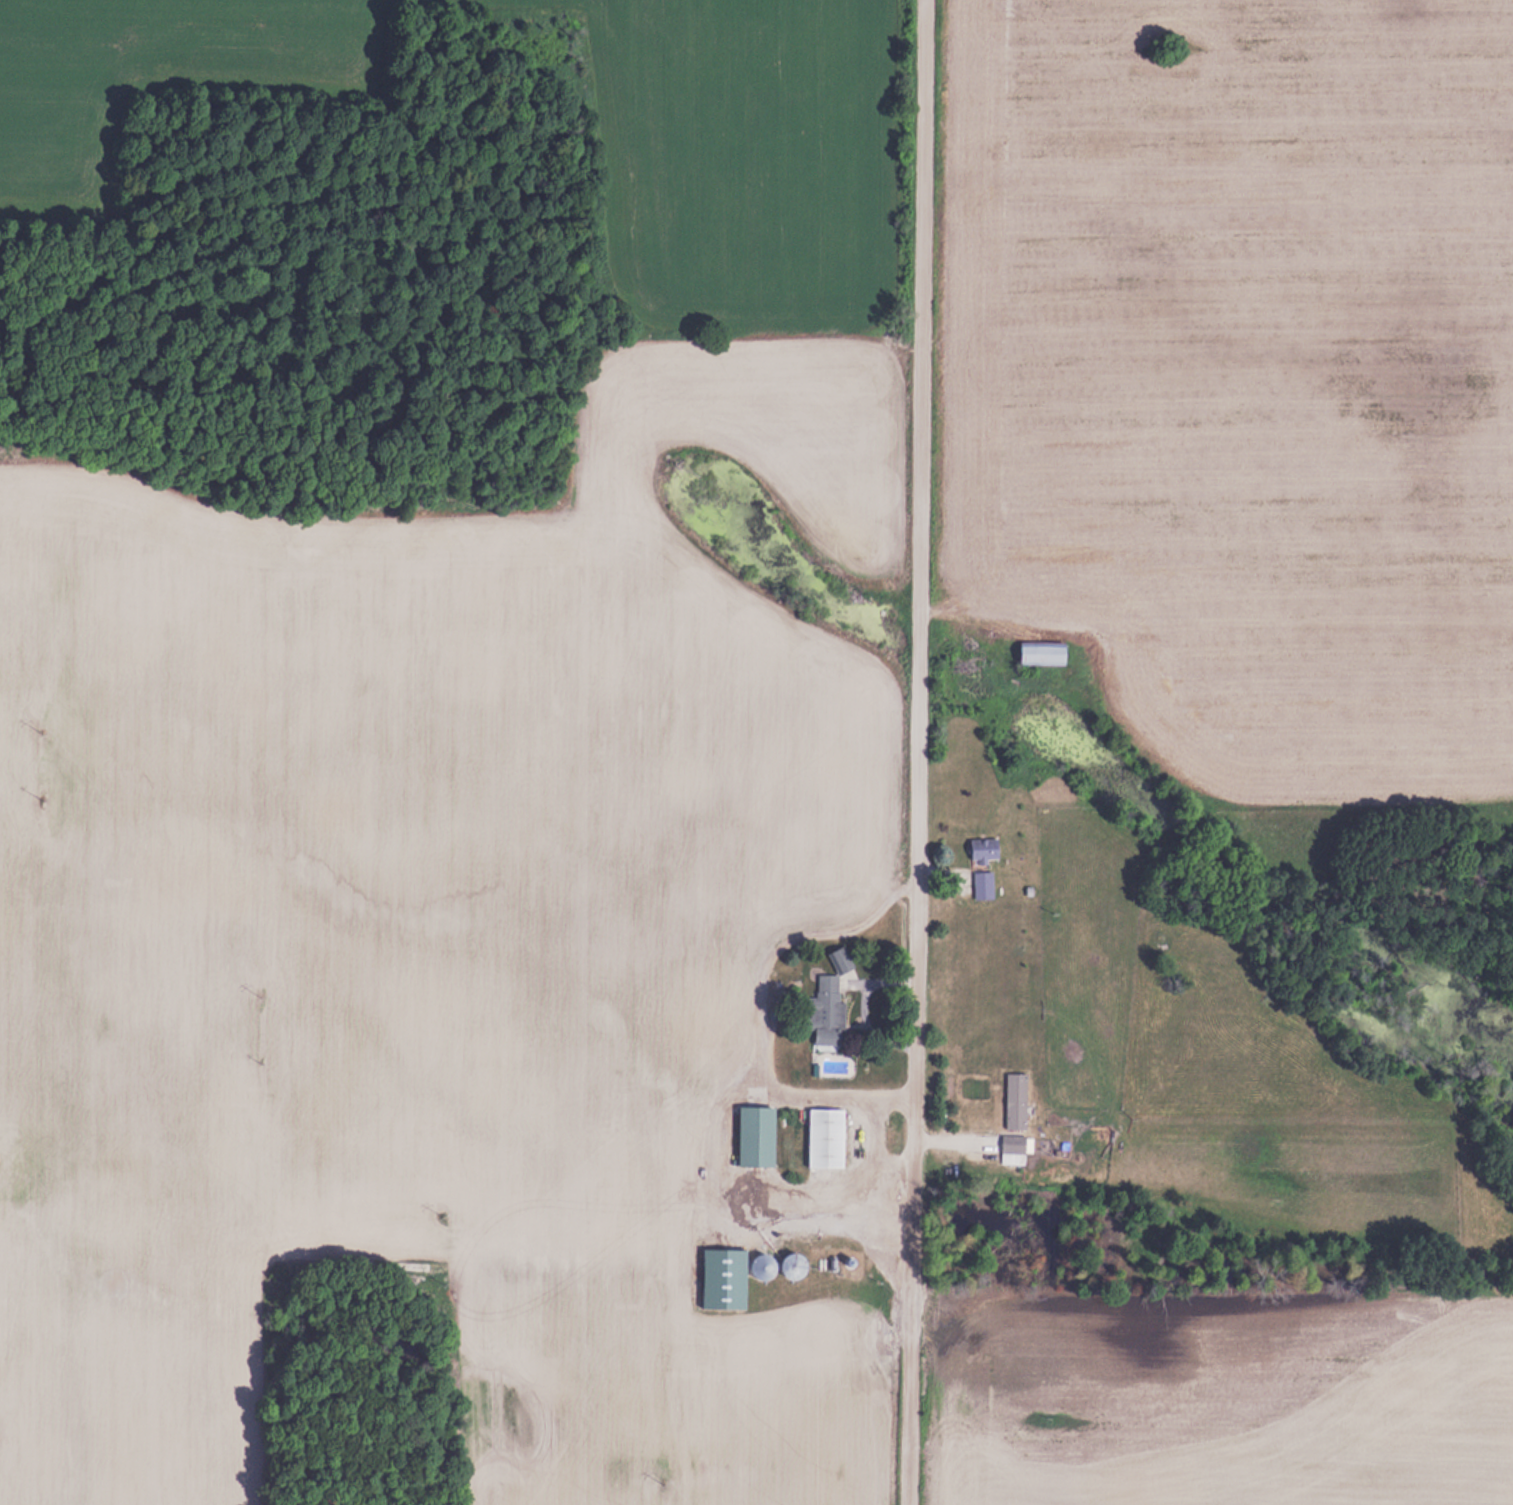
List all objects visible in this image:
building: (1044, 652)
road: (911, 752)
building: (985, 848)
building: (983, 885)
building: (829, 1003)
building: (1015, 1099)
building: (757, 1135)
building: (826, 1137)
building: (1015, 1142)
building: (790, 1265)

